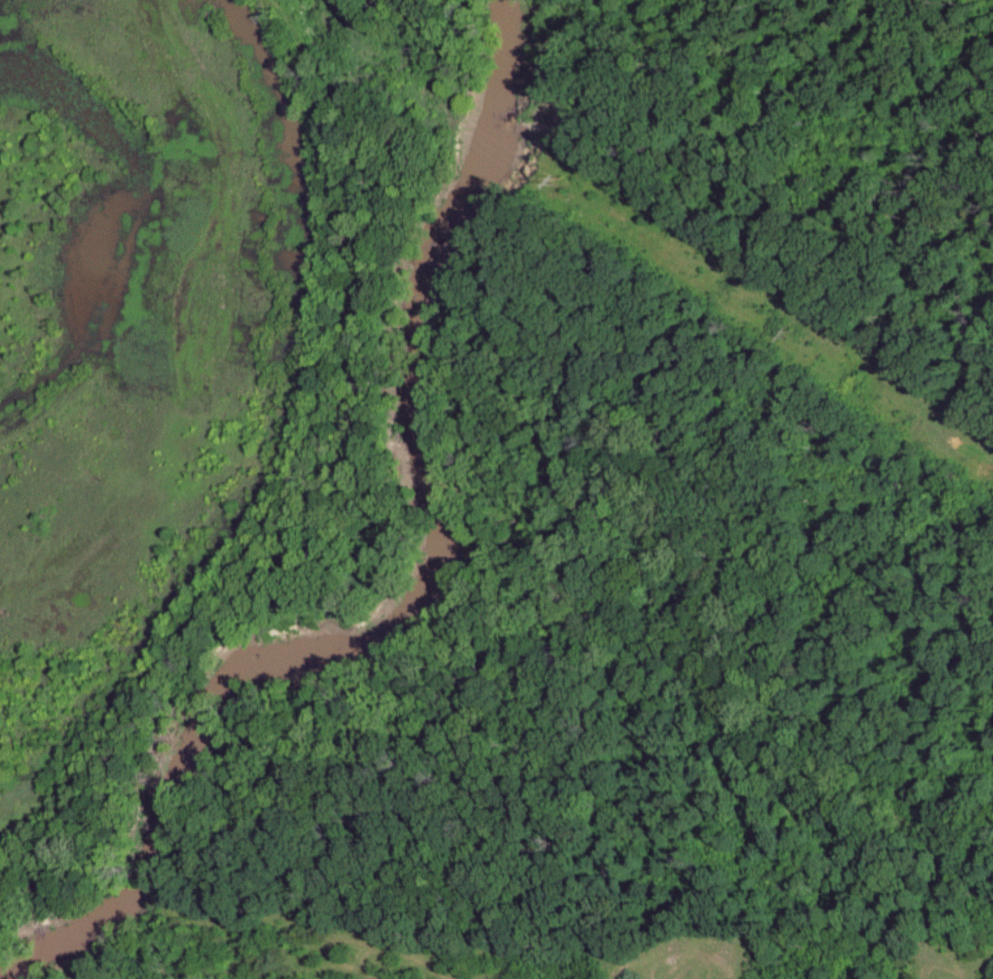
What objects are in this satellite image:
power tower: (551, 182)
power tower: (784, 335)

